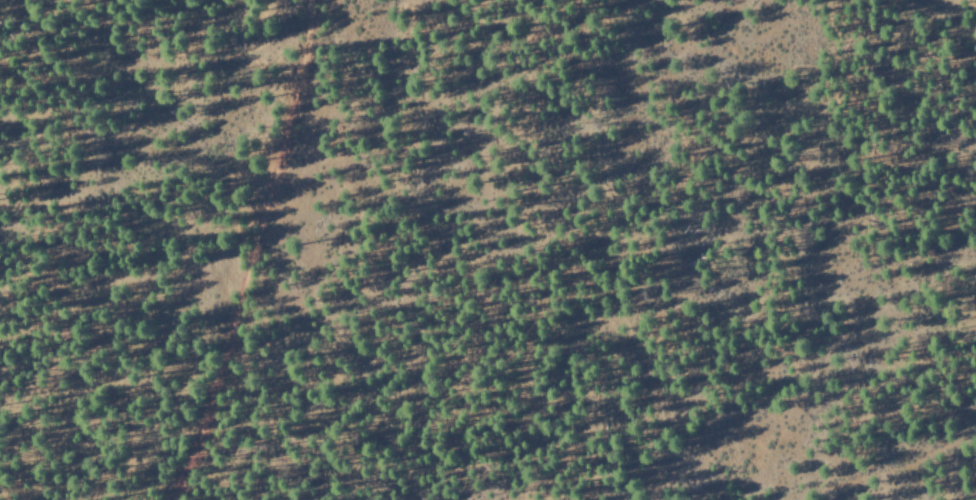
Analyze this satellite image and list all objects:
road: (250, 254)

